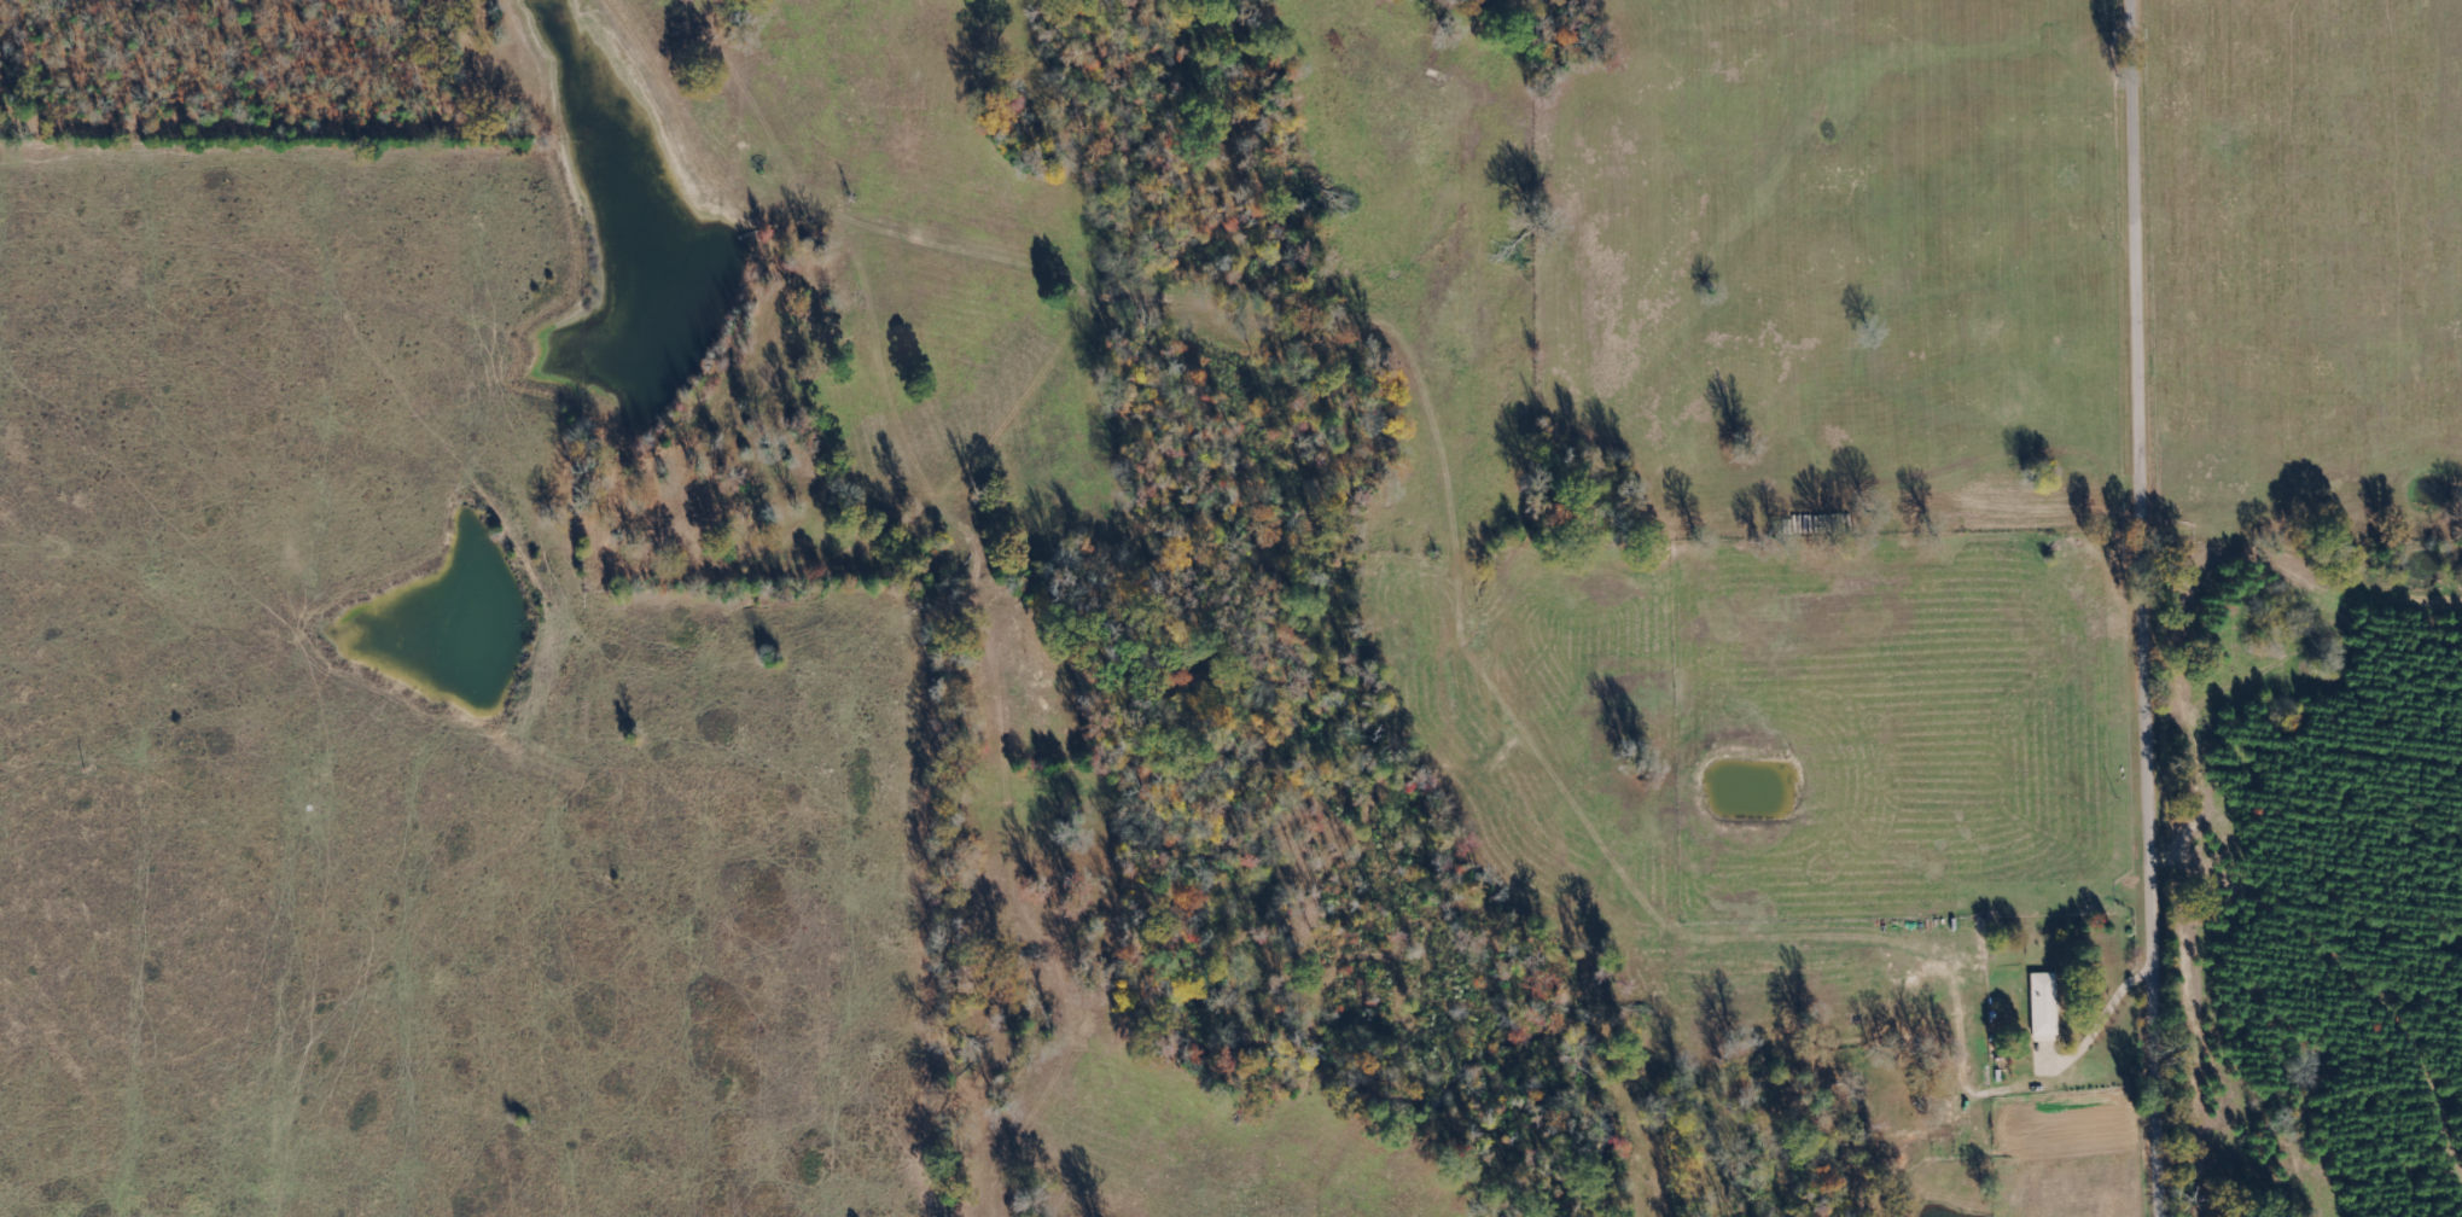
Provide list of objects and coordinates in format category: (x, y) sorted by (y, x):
road: (2153, 608)
building: (2041, 1005)

